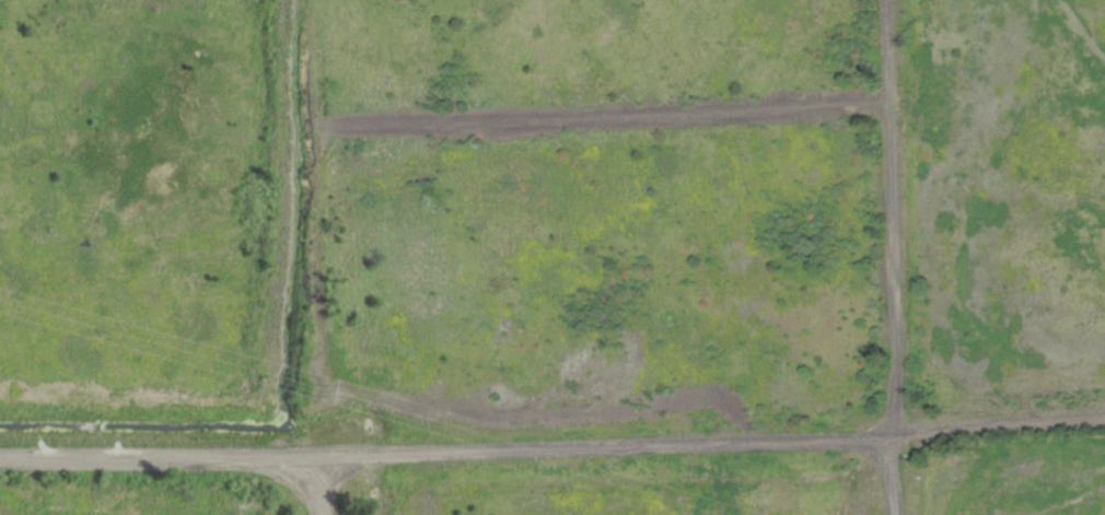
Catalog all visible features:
power tower: (298, 399)

